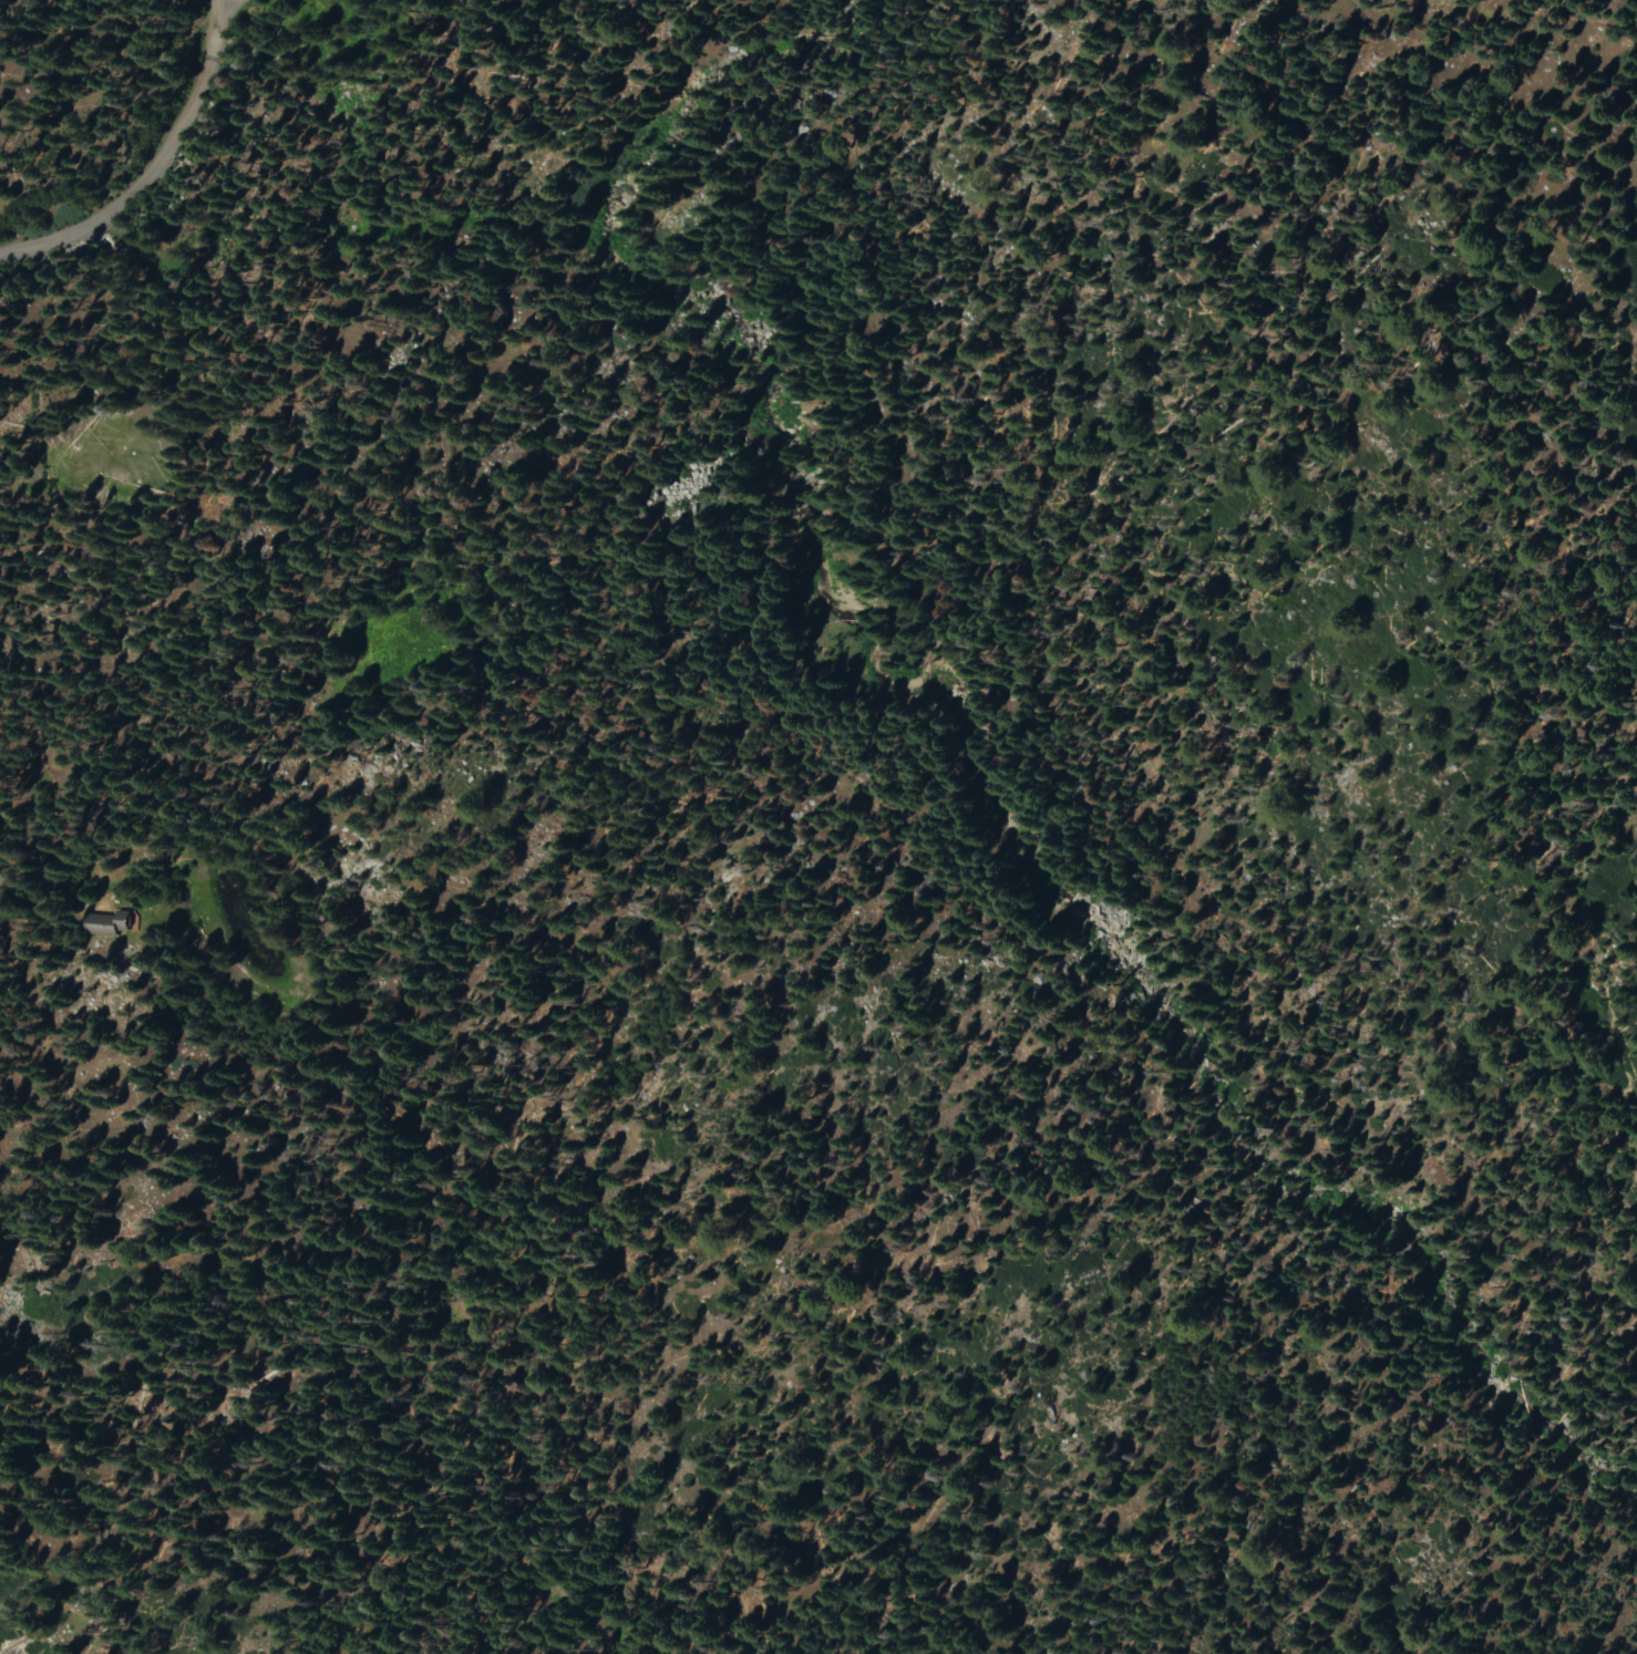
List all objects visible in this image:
road: (225, 3)
road: (154, 166)
building: (109, 921)

